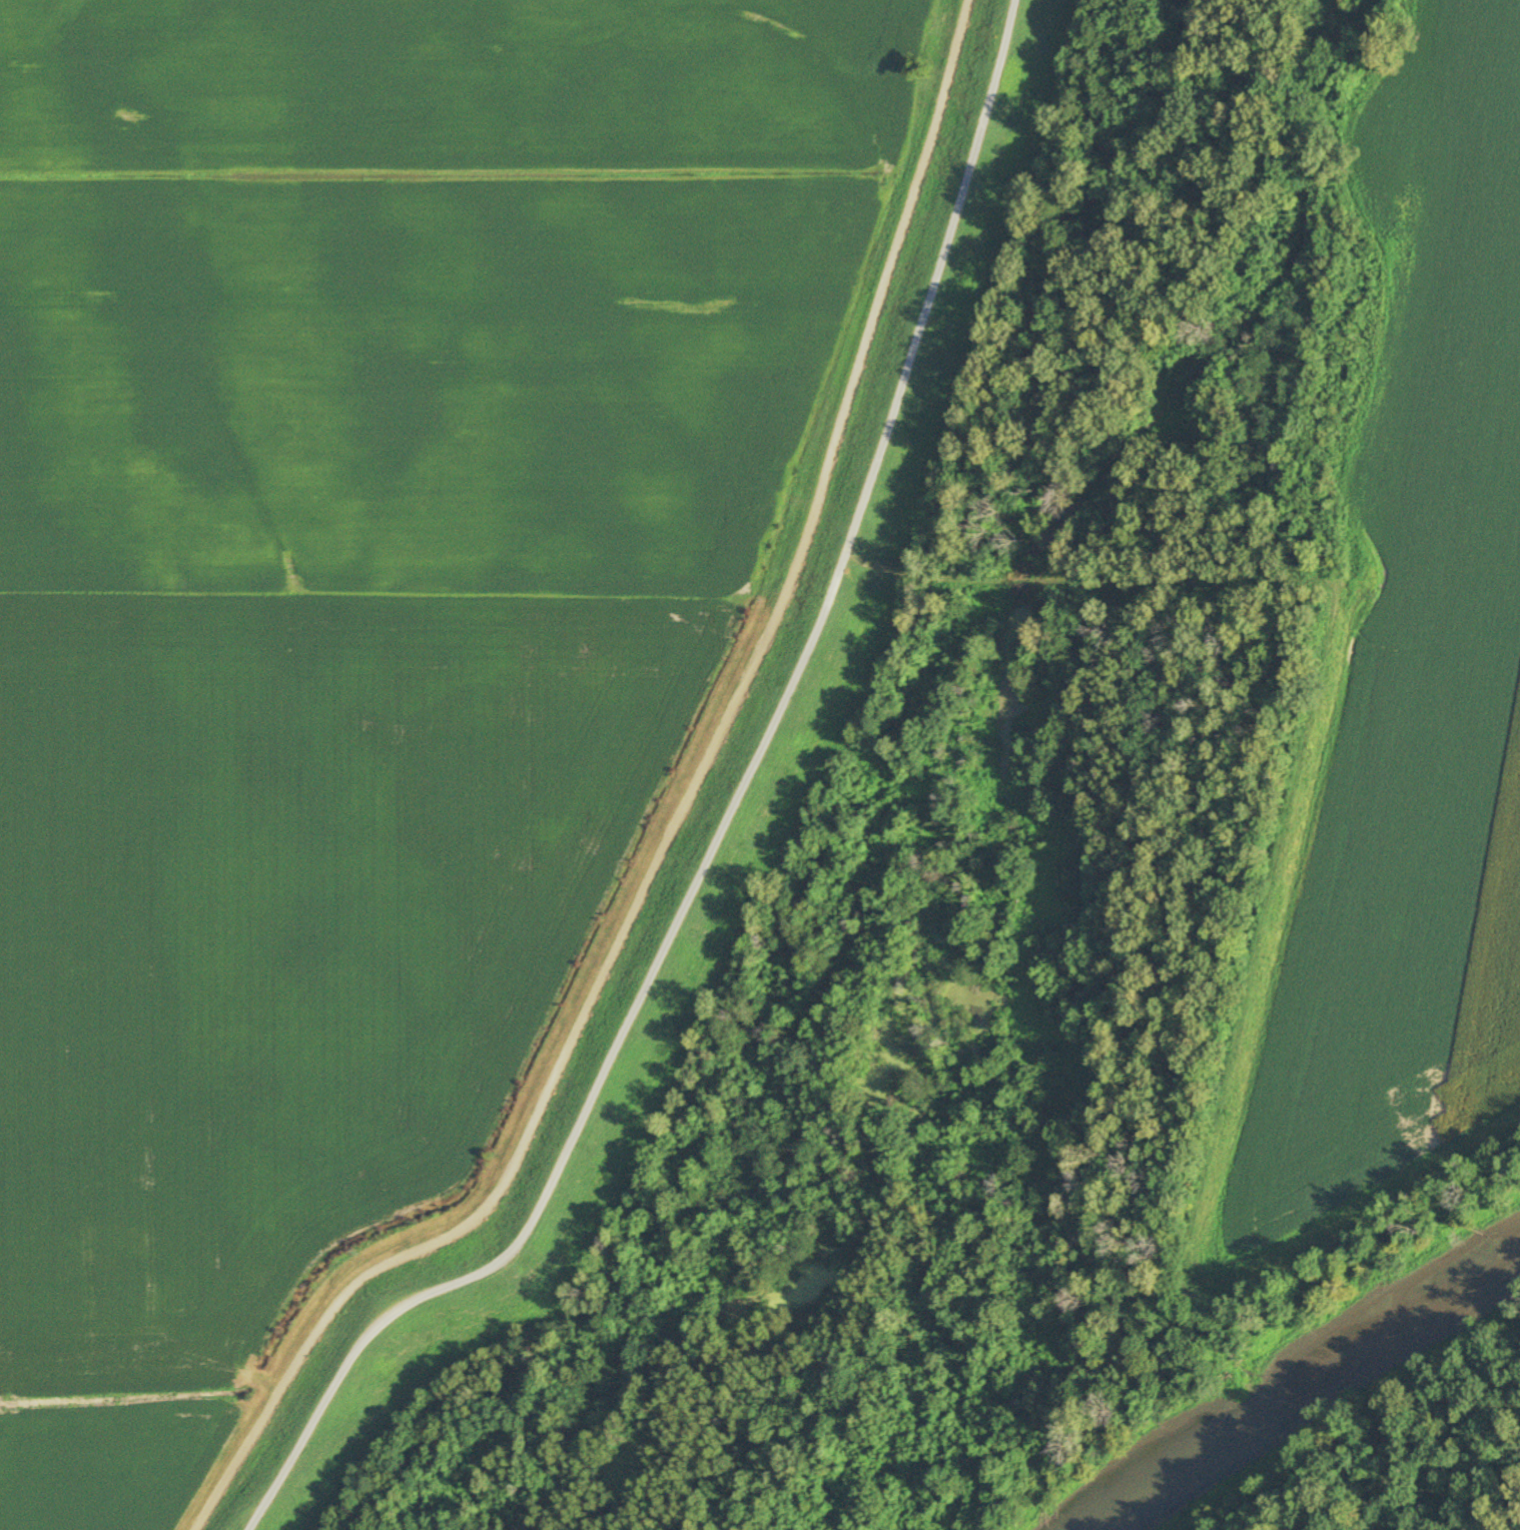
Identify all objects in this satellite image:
road: (732, 824)
road: (676, 826)
river: (1307, 1386)

